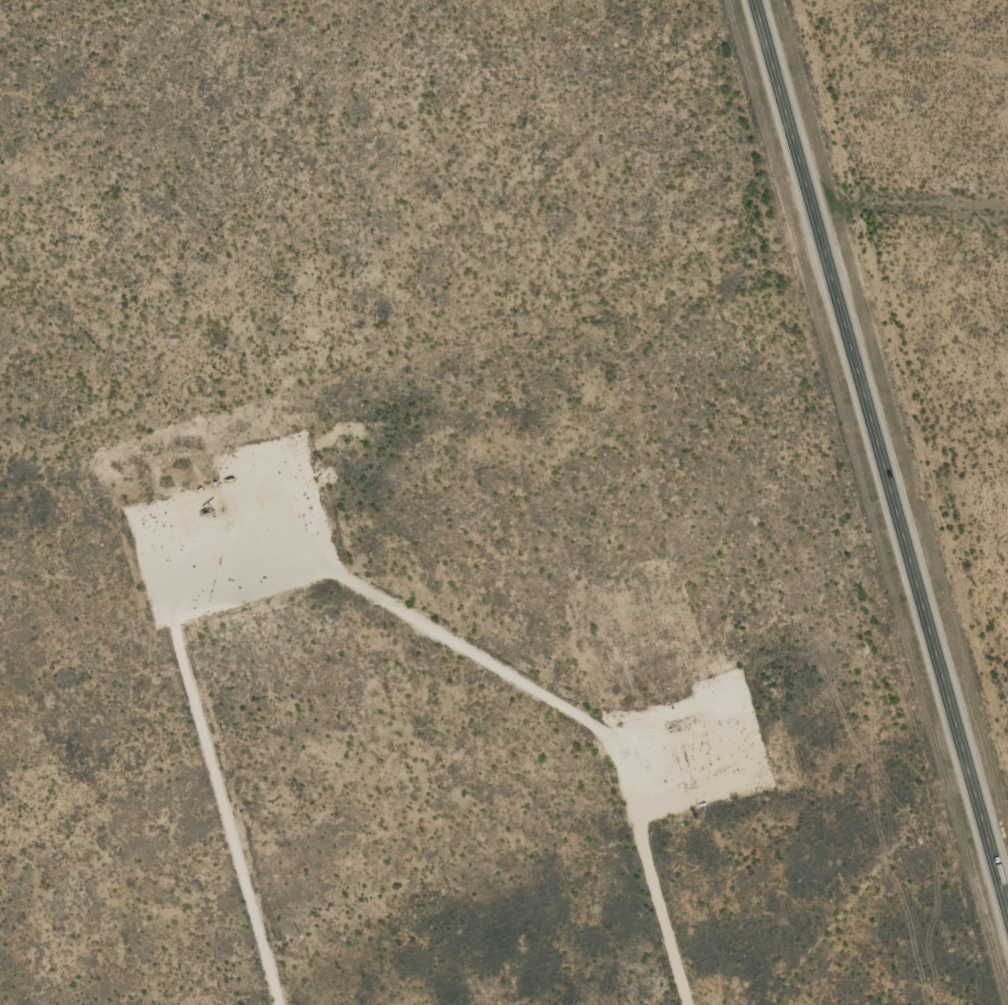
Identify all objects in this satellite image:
road: (884, 449)

